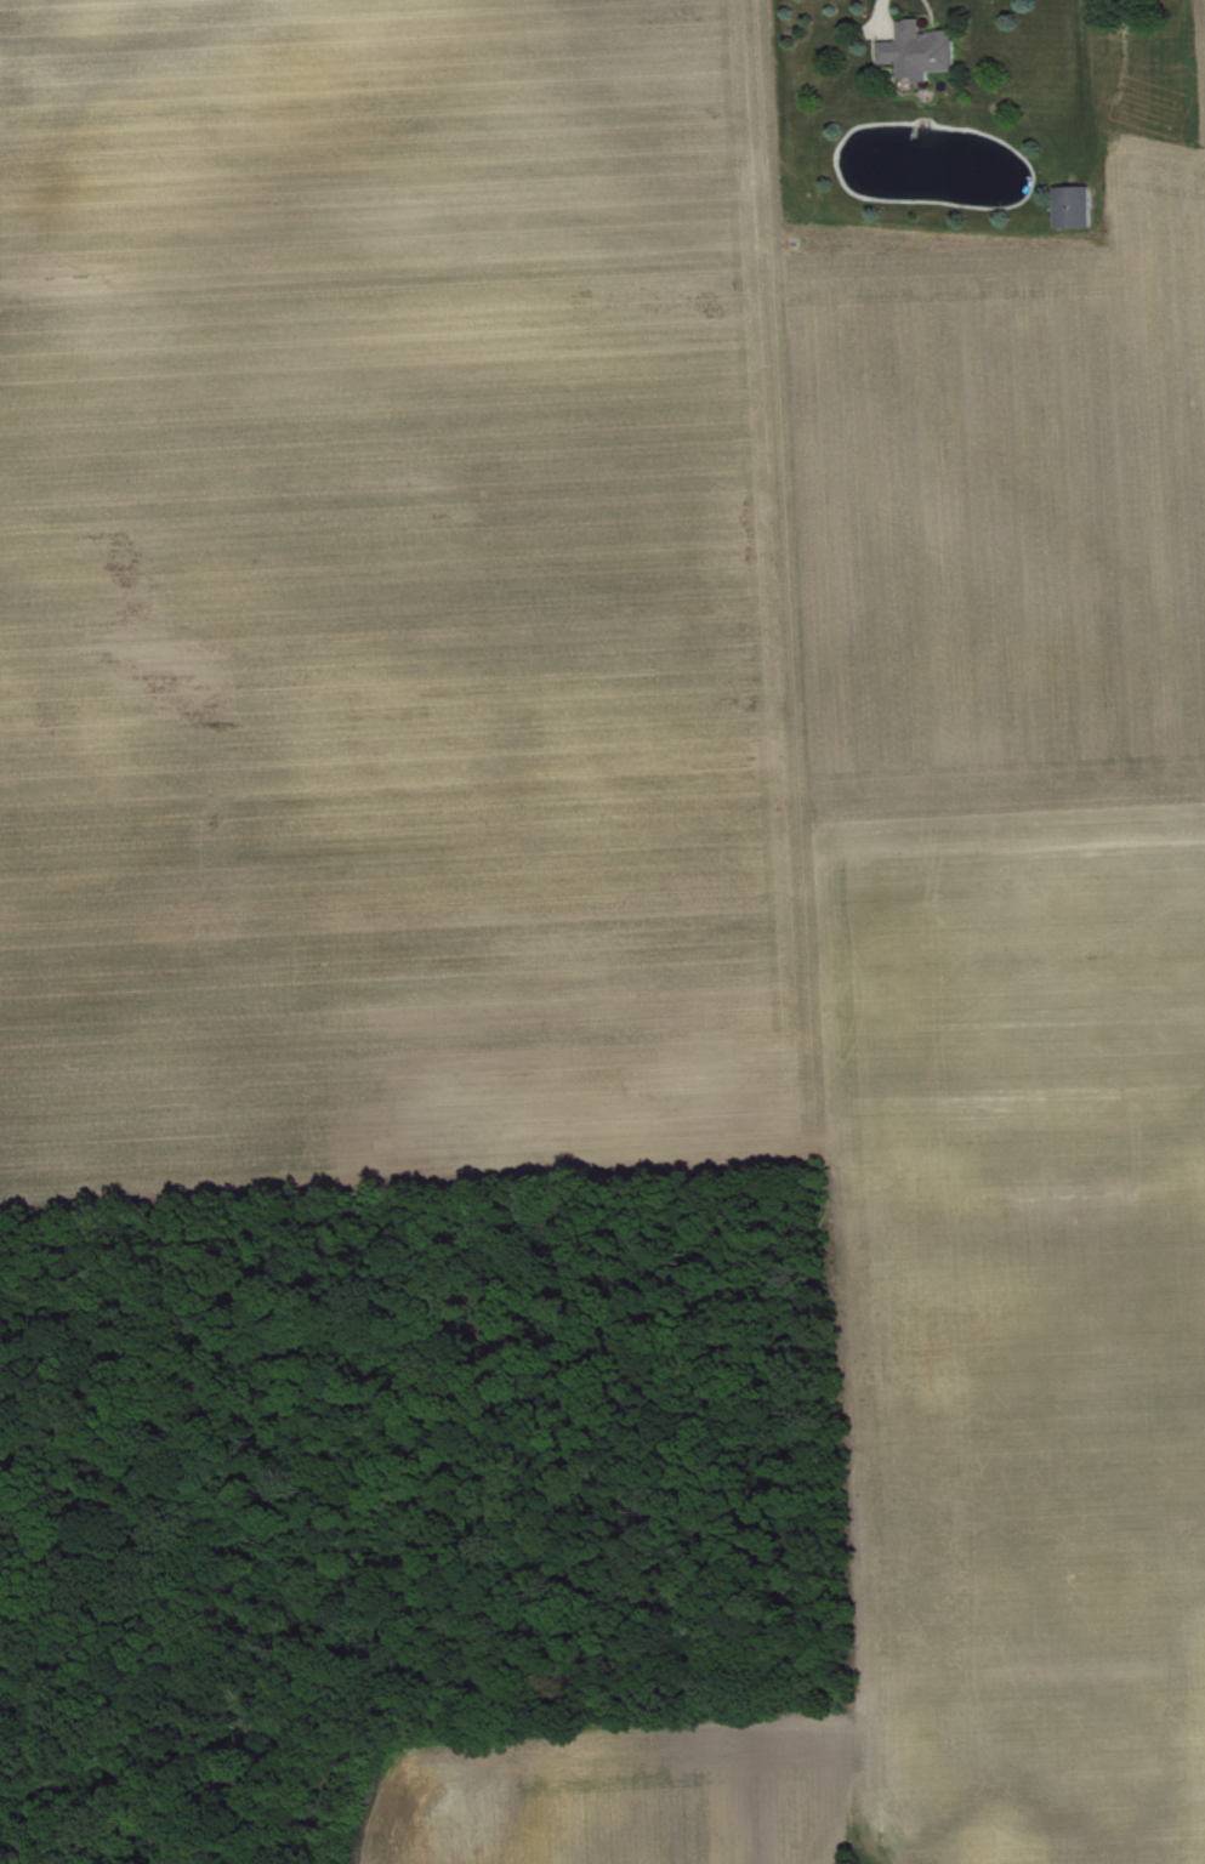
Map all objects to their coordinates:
road: (879, 15)
building: (927, 58)

